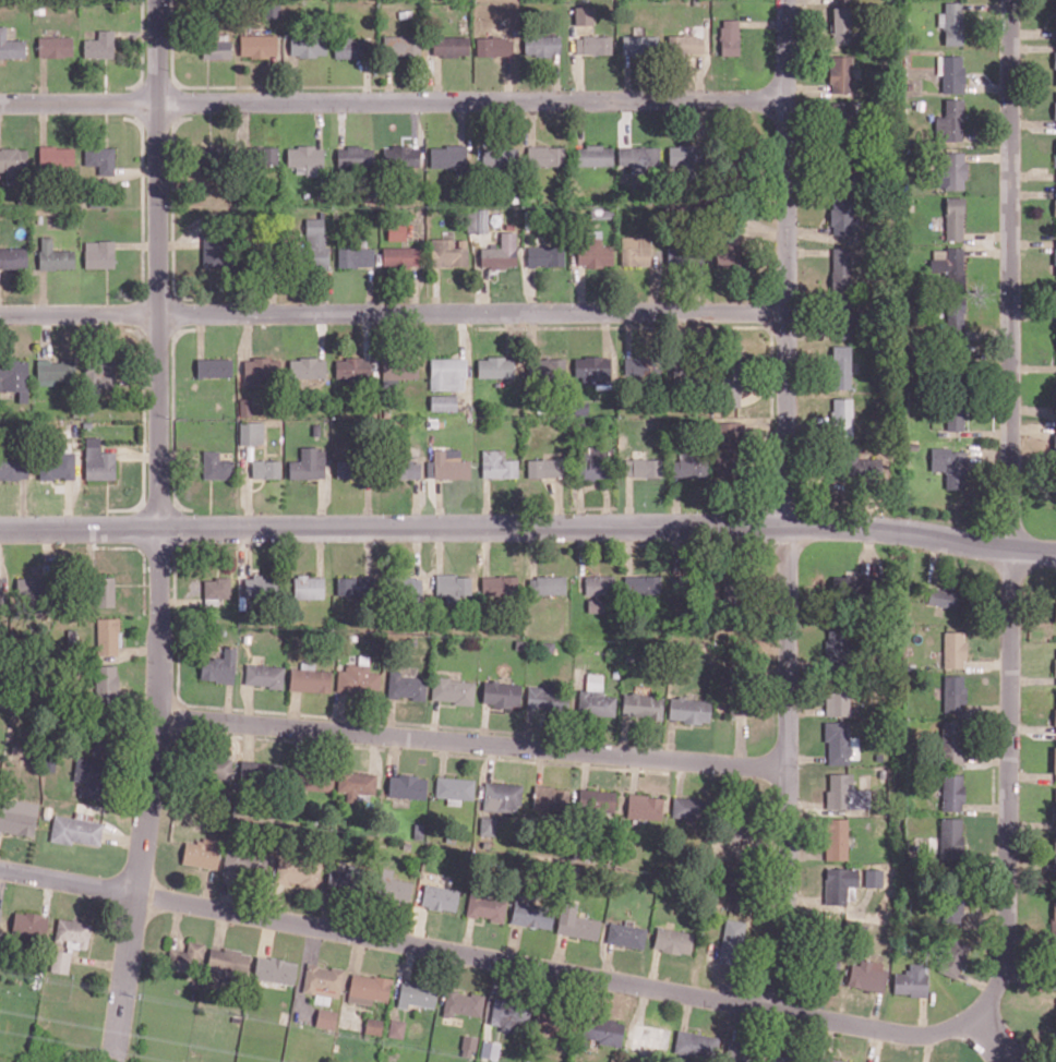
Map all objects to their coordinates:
building: (695, 1)
road: (987, 5)
building: (1055, 16)
building: (953, 22)
road: (1045, 22)
road: (761, 23)
building: (840, 24)
road: (1032, 33)
road: (136, 34)
building: (729, 36)
building: (685, 43)
building: (257, 44)
building: (401, 44)
building: (541, 44)
building: (593, 44)
building: (637, 44)
building: (11, 45)
building: (55, 45)
building: (99, 45)
building: (308, 45)
building: (449, 45)
building: (351, 46)
building: (494, 46)
road: (1032, 47)
road: (142, 48)
building: (216, 48)
building: (1055, 59)
building: (840, 72)
building: (952, 72)
road: (555, 76)
road: (579, 76)
road: (275, 77)
road: (290, 77)
road: (436, 77)
road: (508, 77)
road: (627, 77)
road: (207, 79)
road: (106, 80)
road: (367, 80)
road: (236, 85)
street lamp: (745, 87)
road: (806, 87)
road: (988, 87)
street lamp: (567, 88)
street lamp: (191, 89)
street lamp: (377, 89)
road: (392, 99)
building: (1055, 109)
building: (841, 120)
building: (950, 120)
road: (461, 121)
road: (532, 121)
road: (580, 121)
road: (44, 122)
road: (211, 122)
road: (415, 122)
road: (107, 123)
road: (244, 123)
road: (1031, 123)
road: (987, 135)
road: (404, 136)
building: (595, 154)
building: (56, 155)
building: (259, 155)
building: (400, 155)
building: (500, 155)
building: (544, 155)
building: (355, 156)
building: (448, 156)
road: (988, 156)
building: (305, 157)
building: (639, 157)
building: (100, 158)
building: (687, 158)
building: (12, 159)
building: (731, 159)
building: (1055, 159)
building: (845, 166)
building: (955, 169)
road: (136, 170)
road: (1032, 174)
road: (1033, 192)
building: (1055, 208)
building: (99, 213)
building: (20, 215)
building: (841, 215)
building: (955, 217)
building: (396, 229)
road: (143, 230)
road: (987, 236)
building: (315, 243)
road: (1032, 243)
road: (136, 244)
building: (218, 250)
building: (635, 250)
building: (501, 251)
building: (728, 251)
road: (987, 251)
building: (447, 252)
building: (593, 252)
building: (99, 253)
building: (686, 254)
building: (53, 255)
building: (355, 255)
building: (399, 255)
building: (545, 255)
building: (1054, 255)
building: (13, 256)
building: (264, 257)
building: (950, 266)
building: (841, 267)
road: (489, 271)
road: (370, 289)
road: (413, 289)
road: (435, 289)
road: (481, 289)
road: (581, 289)
road: (44, 291)
road: (107, 291)
street lamp: (569, 300)
street lamp: (33, 301)
building: (1055, 302)
road: (394, 312)
building: (956, 312)
building: (843, 318)
road: (551, 326)
road: (532, 333)
road: (610, 333)
road: (369, 334)
road: (509, 334)
road: (46, 335)
road: (321, 335)
building: (955, 363)
building: (691, 365)
building: (215, 366)
building: (495, 366)
building: (647, 366)
building: (840, 366)
building: (307, 367)
road: (1032, 367)
building: (547, 369)
building: (592, 369)
building: (260, 370)
building: (352, 370)
building: (397, 370)
building: (56, 373)
building: (97, 373)
building: (447, 373)
building: (13, 374)
building: (730, 381)
building: (1055, 398)
building: (443, 402)
building: (245, 406)
building: (956, 411)
street lamp: (776, 414)
building: (842, 415)
street lamp: (170, 417)
building: (316, 430)
building: (251, 432)
road: (974, 433)
building: (913, 446)
building: (728, 448)
road: (137, 455)
building: (97, 460)
building: (595, 461)
building: (308, 462)
building: (497, 463)
building: (688, 464)
building: (948, 464)
building: (58, 466)
building: (216, 466)
building: (449, 466)
building: (852, 466)
building: (544, 467)
building: (641, 467)
building: (13, 468)
building: (265, 468)
building: (352, 468)
building: (401, 468)
road: (144, 482)
road: (244, 487)
road: (255, 487)
building: (1055, 494)
road: (322, 502)
road: (368, 503)
road: (23, 504)
road: (211, 504)
road: (787, 504)
road: (107, 505)
street lamp: (192, 511)
street lamp: (381, 511)
street lamp: (35, 512)
road: (1009, 512)
road: (528, 526)
road: (159, 531)
road: (867, 548)
road: (48, 551)
road: (91, 551)
road: (248, 551)
road: (320, 551)
road: (143, 554)
road: (933, 558)
road: (254, 569)
building: (640, 582)
building: (688, 582)
building: (855, 582)
road: (136, 583)
building: (547, 583)
building: (452, 584)
building: (500, 584)
building: (260, 586)
building: (308, 586)
building: (356, 586)
building: (216, 587)
building: (405, 588)
building: (36, 590)
building: (104, 590)
building: (598, 590)
building: (733, 591)
building: (0, 592)
building: (946, 596)
street lamp: (147, 611)
building: (1055, 613)
building: (106, 635)
building: (838, 648)
building: (953, 649)
road: (140, 650)
building: (219, 666)
building: (1055, 666)
building: (264, 675)
building: (358, 678)
building: (310, 679)
road: (1032, 679)
building: (106, 683)
building: (406, 685)
building: (736, 687)
building: (453, 690)
building: (501, 692)
building: (953, 692)
building: (547, 697)
building: (837, 698)
road: (227, 702)
building: (595, 702)
road: (249, 704)
building: (643, 704)
road: (293, 709)
road: (573, 709)
building: (689, 709)
road: (340, 712)
road: (327, 714)
building: (1055, 715)
road: (389, 716)
road: (434, 719)
road: (483, 723)
road: (682, 725)
road: (529, 726)
road: (1031, 727)
building: (99, 732)
road: (624, 735)
road: (227, 738)
road: (670, 738)
road: (741, 739)
road: (249, 740)
building: (838, 741)
building: (952, 741)
road: (472, 743)
street lamp: (381, 745)
road: (363, 746)
building: (16, 749)
road: (372, 752)
road: (394, 755)
road: (442, 757)
street lamp: (532, 758)
road: (806, 758)
road: (986, 760)
road: (490, 761)
building: (1055, 761)
road: (565, 762)
road: (539, 764)
building: (209, 765)
street lamp: (800, 767)
road: (585, 770)
road: (449, 771)
building: (260, 772)
road: (634, 774)
street lamp: (711, 774)
road: (1030, 775)
building: (92, 776)
road: (680, 776)
building: (310, 777)
building: (355, 781)
building: (406, 785)
street lamp: (1021, 785)
building: (454, 787)
building: (952, 792)
building: (845, 793)
building: (501, 796)
building: (549, 797)
building: (597, 799)
road: (806, 804)
building: (644, 806)
road: (985, 806)
building: (692, 807)
building: (1054, 814)
building: (742, 816)
building: (19, 817)
road: (1030, 824)
building: (487, 825)
building: (75, 828)
building: (734, 833)
road: (121, 838)
building: (836, 838)
building: (951, 840)
building: (202, 853)
building: (1054, 856)
building: (248, 860)
building: (291, 871)
road: (1, 878)
building: (345, 878)
building: (872, 878)
street lamp: (13, 883)
building: (839, 883)
building: (742, 885)
road: (207, 888)
building: (392, 888)
road: (226, 890)
road: (47, 896)
building: (439, 896)
road: (77, 901)
building: (952, 903)
building: (485, 906)
building: (0, 907)
building: (0, 909)
road: (326, 909)
building: (531, 914)
street lamp: (188, 915)
road: (479, 921)
building: (576, 922)
building: (28, 924)
road: (419, 926)
building: (1053, 926)
road: (219, 927)
building: (72, 931)
road: (467, 934)
building: (626, 934)
road: (266, 936)
road: (572, 938)
building: (673, 940)
road: (312, 943)
road: (514, 943)
building: (729, 943)
street lamp: (347, 944)
road: (89, 946)
road: (617, 946)
road: (357, 952)
road: (560, 953)
building: (187, 957)
building: (953, 957)
road: (317, 960)
building: (60, 961)
road: (98, 961)
building: (230, 961)
road: (408, 961)
building: (823, 961)
road: (514, 962)
road: (608, 962)
road: (454, 968)
road: (653, 968)
building: (274, 969)
street lamp: (487, 969)
building: (1054, 973)
building: (867, 975)
building: (322, 979)
building: (911, 980)
road: (723, 981)
road: (976, 981)
road: (299, 985)
building: (368, 988)
building: (416, 993)
street lamp: (634, 997)
road: (641, 1001)
building: (461, 1002)
road: (875, 1010)
road: (686, 1011)
building: (508, 1014)
road: (922, 1016)
building: (325, 1017)
road: (647, 1017)
building: (1055, 1018)
building: (553, 1019)
building: (373, 1025)
road: (693, 1026)
building: (396, 1027)
building: (602, 1029)
building: (1054, 1034)
building: (649, 1036)
street lamp: (960, 1041)
building: (469, 1042)
building: (696, 1043)
road: (875, 1046)
building: (489, 1049)
building: (743, 1052)
building: (788, 1054)
building: (529, 1059)
building: (830, 1059)
building: (1054, 1059)

